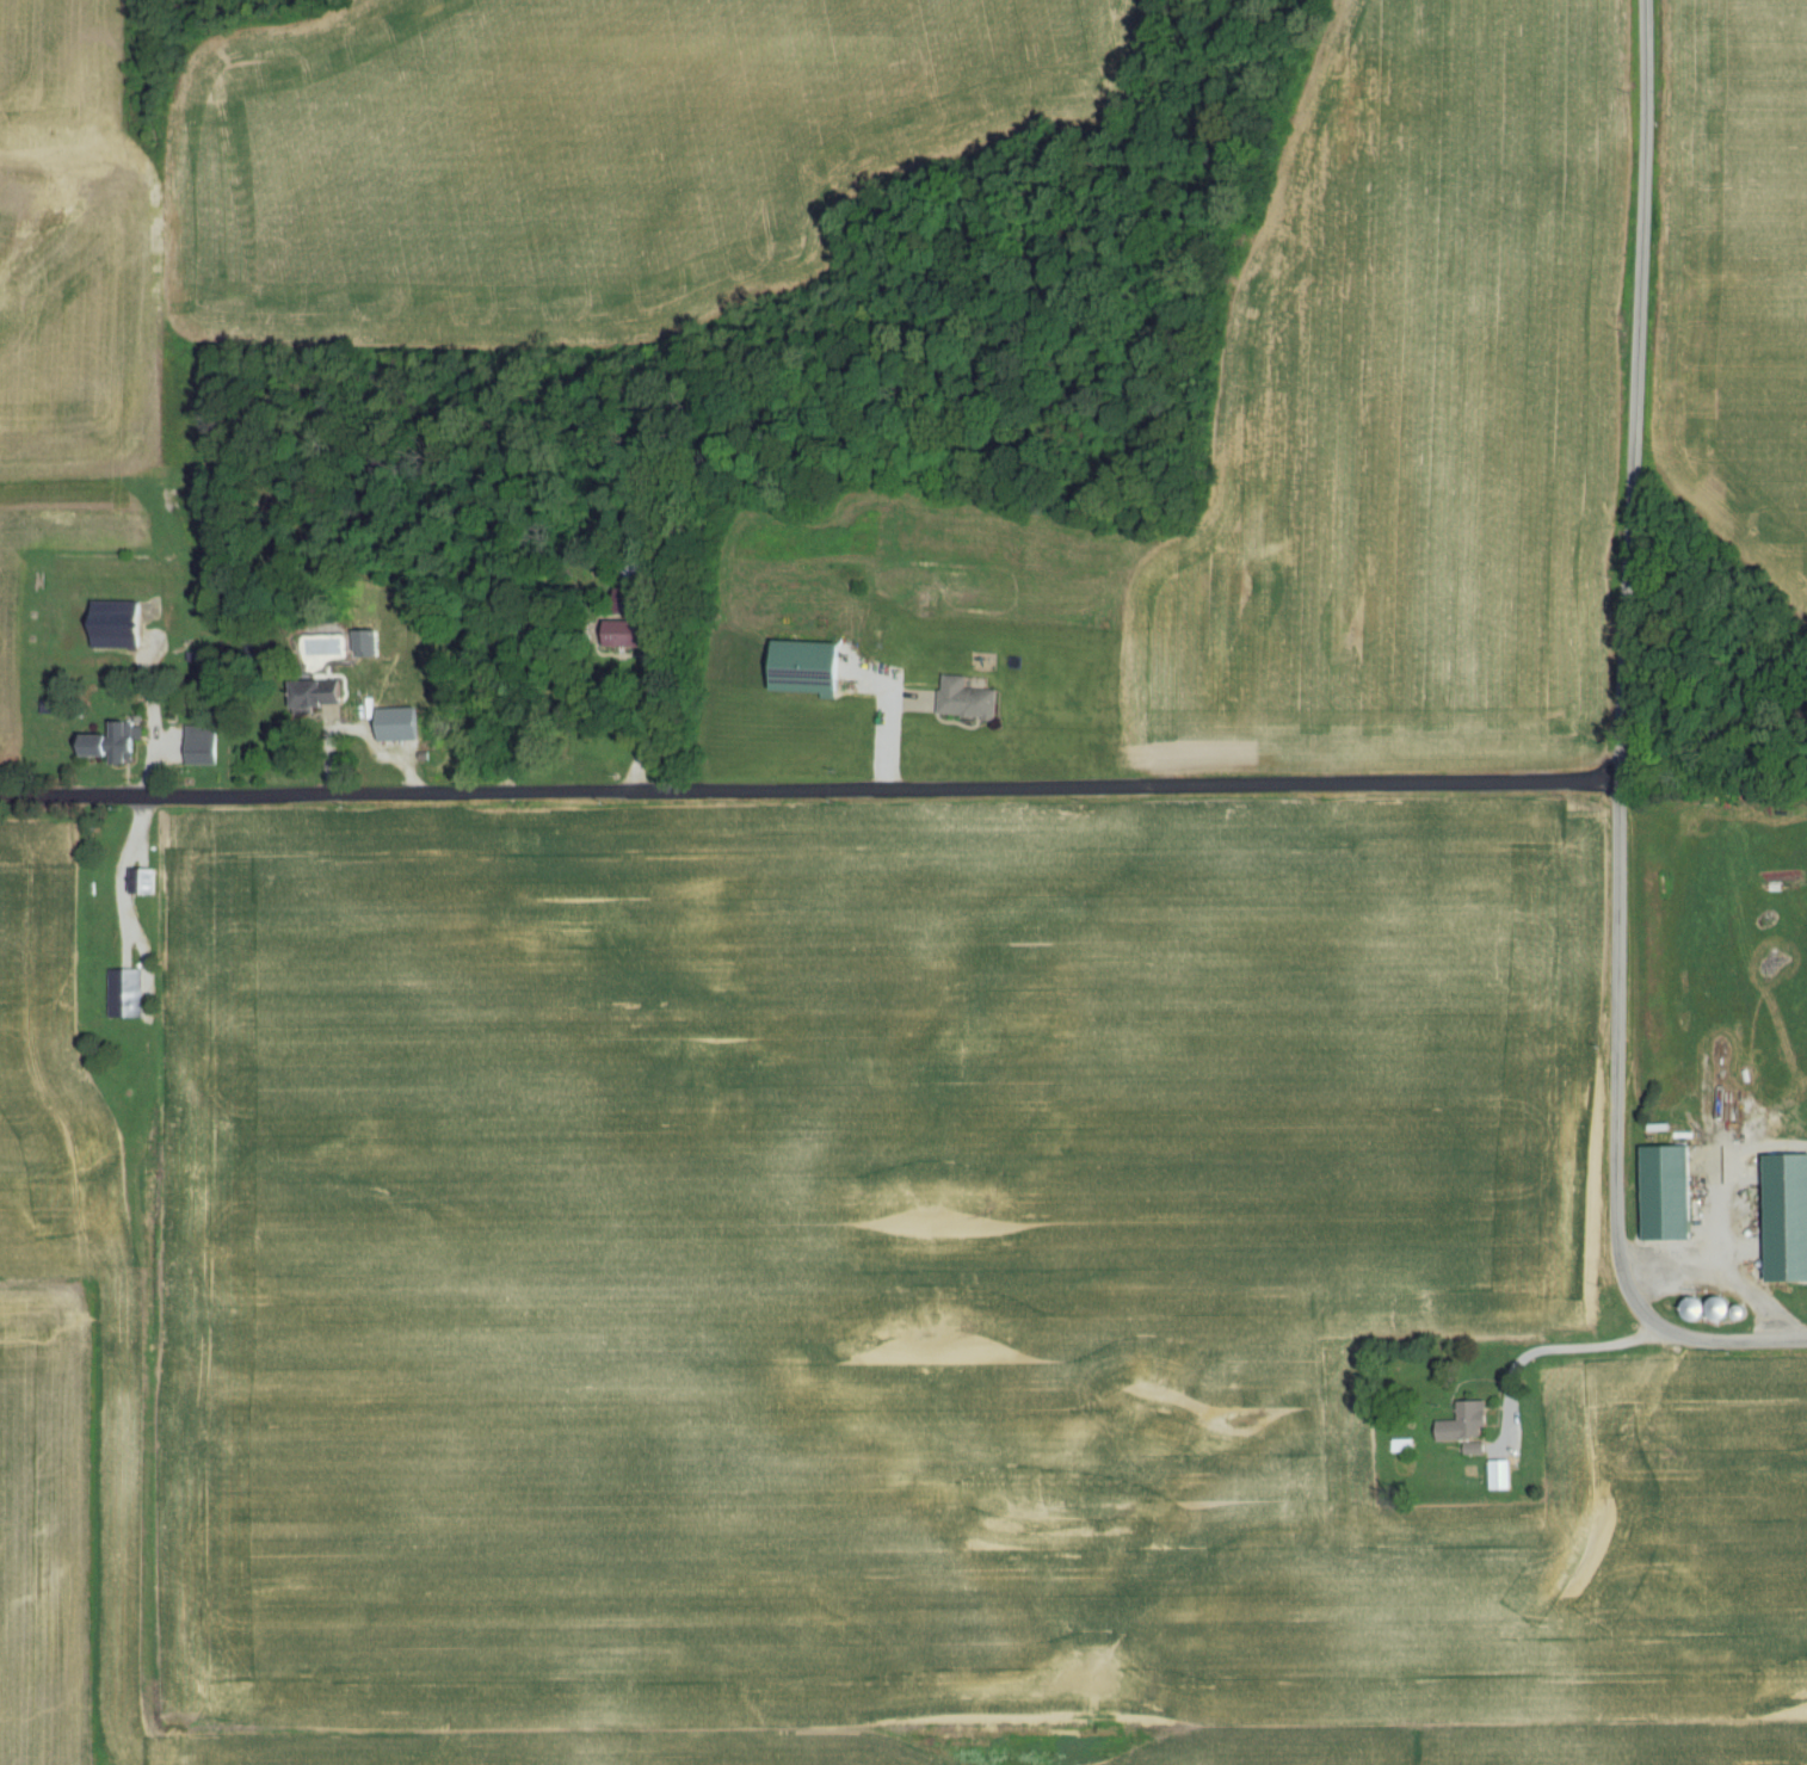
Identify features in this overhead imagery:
road: (1629, 389)
building: (642, 572)
building: (121, 625)
building: (628, 635)
building: (813, 668)
building: (969, 701)
road: (631, 718)
building: (400, 726)
building: (115, 743)
building: (204, 746)
road: (807, 790)
road: (115, 877)
building: (146, 882)
building: (125, 994)
road: (1608, 1135)
building: (1670, 1195)
road: (1715, 1215)
building: (1790, 1218)
road: (1506, 1414)
building: (1469, 1425)
building: (1503, 1477)

